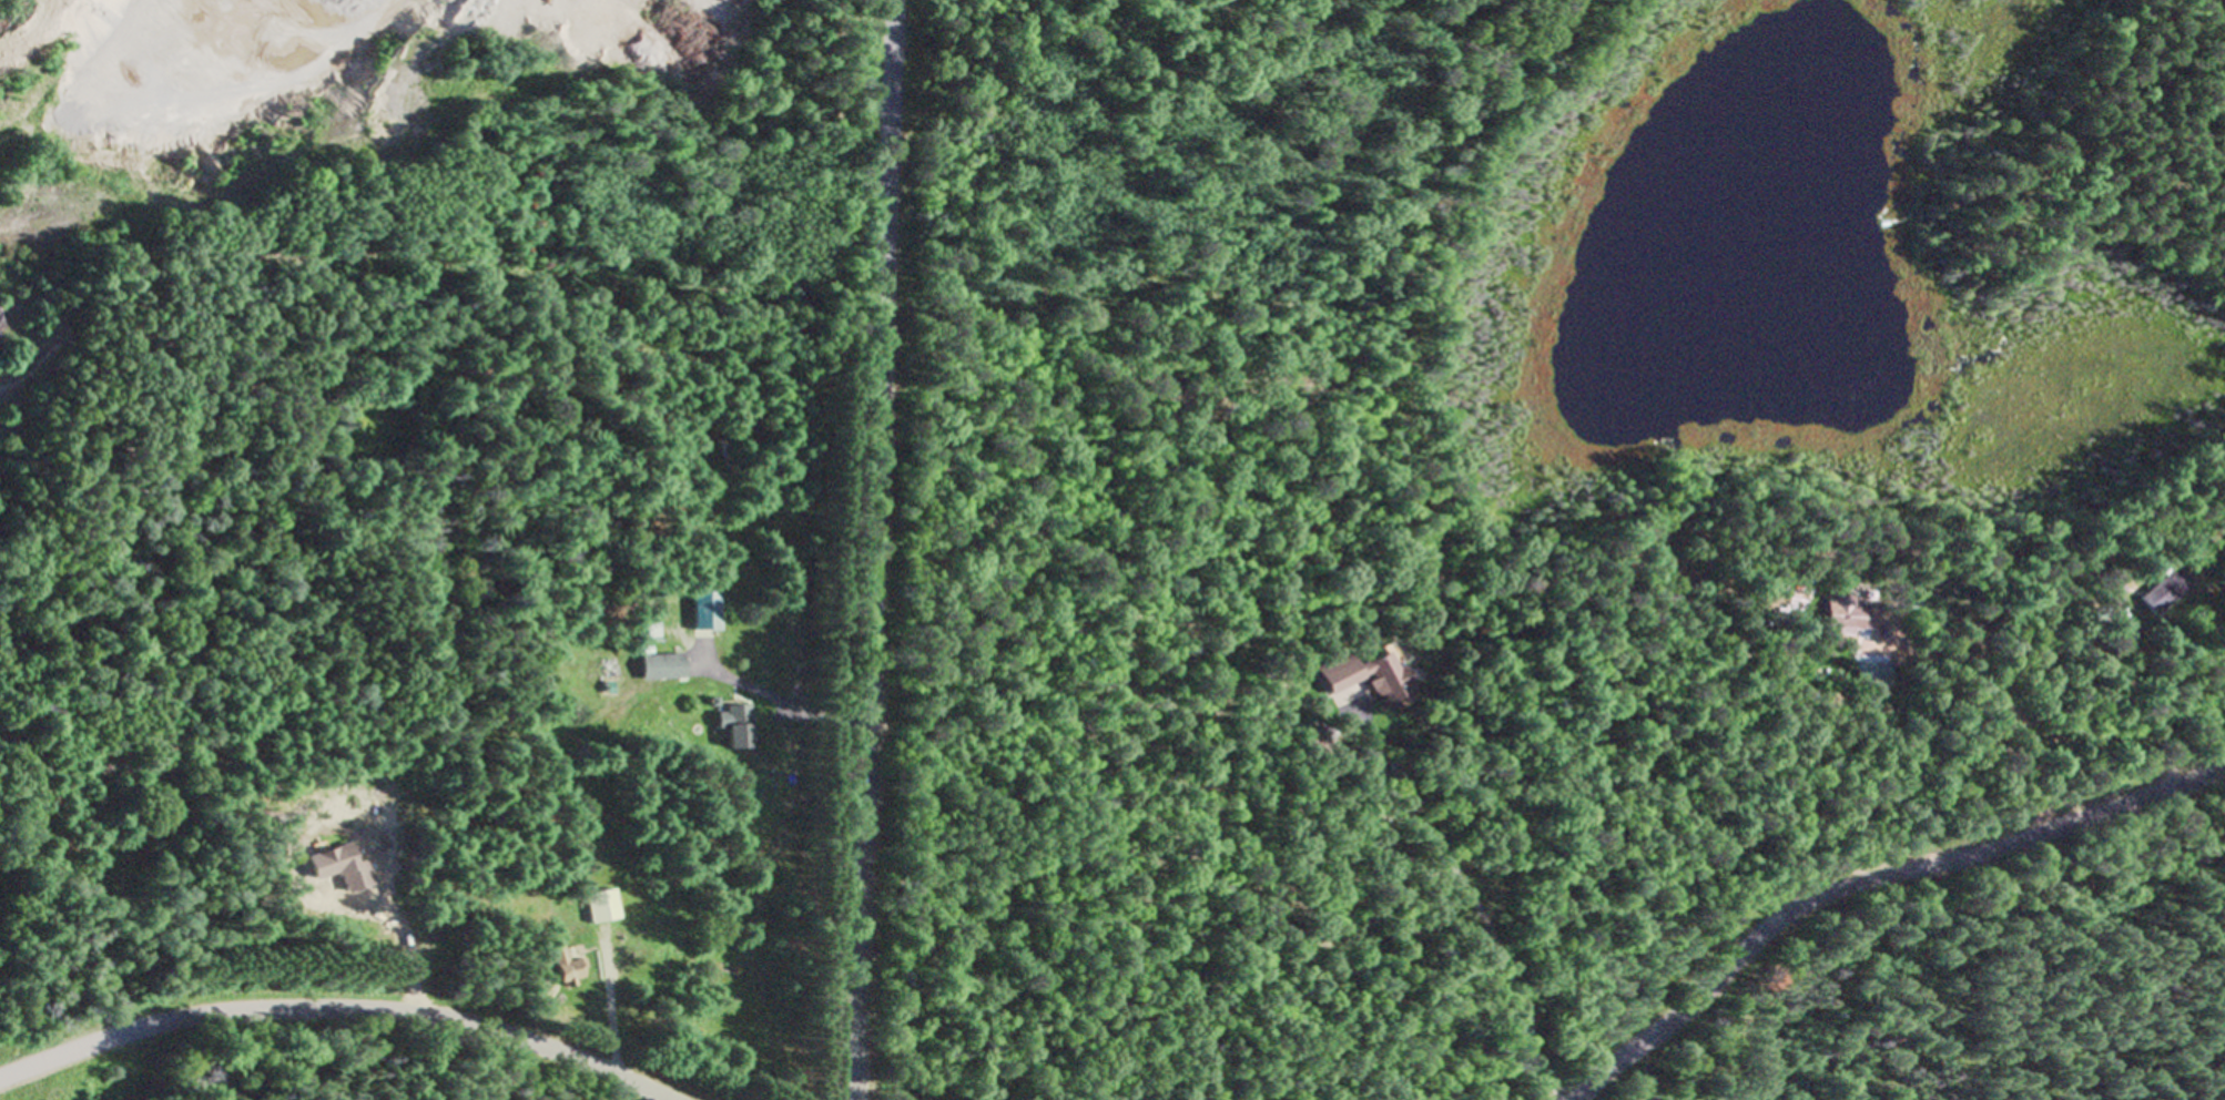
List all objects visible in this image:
park: (1271, 154)
park: (2056, 165)
quarry: (396, 193)
road: (868, 549)
building: (2109, 587)
building: (2163, 593)
building: (703, 612)
building: (1846, 617)
building: (659, 668)
building: (1871, 674)
building: (1364, 679)
building: (732, 729)
road: (1871, 876)
building: (600, 908)
building: (562, 966)
road: (339, 1002)

